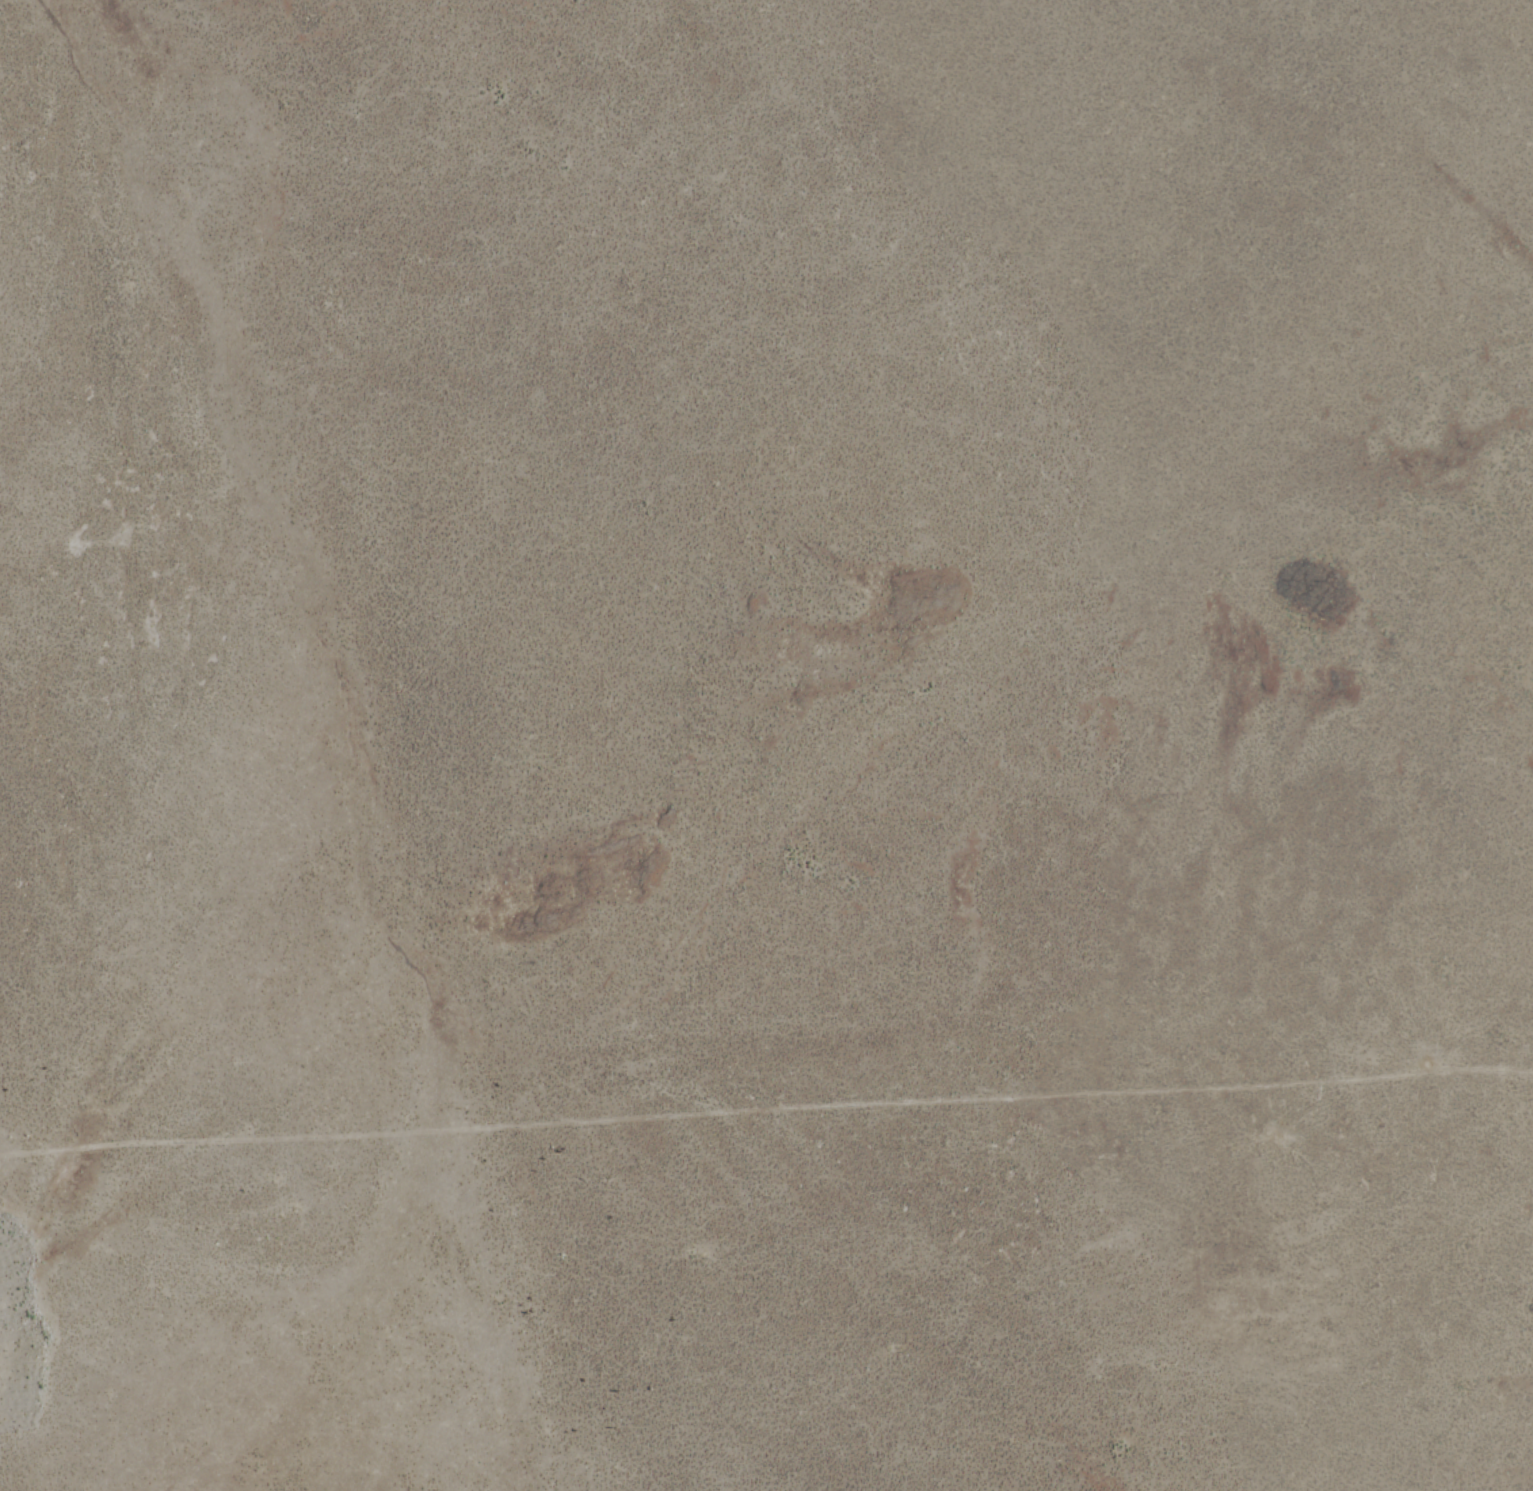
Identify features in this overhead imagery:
road: (766, 1113)

